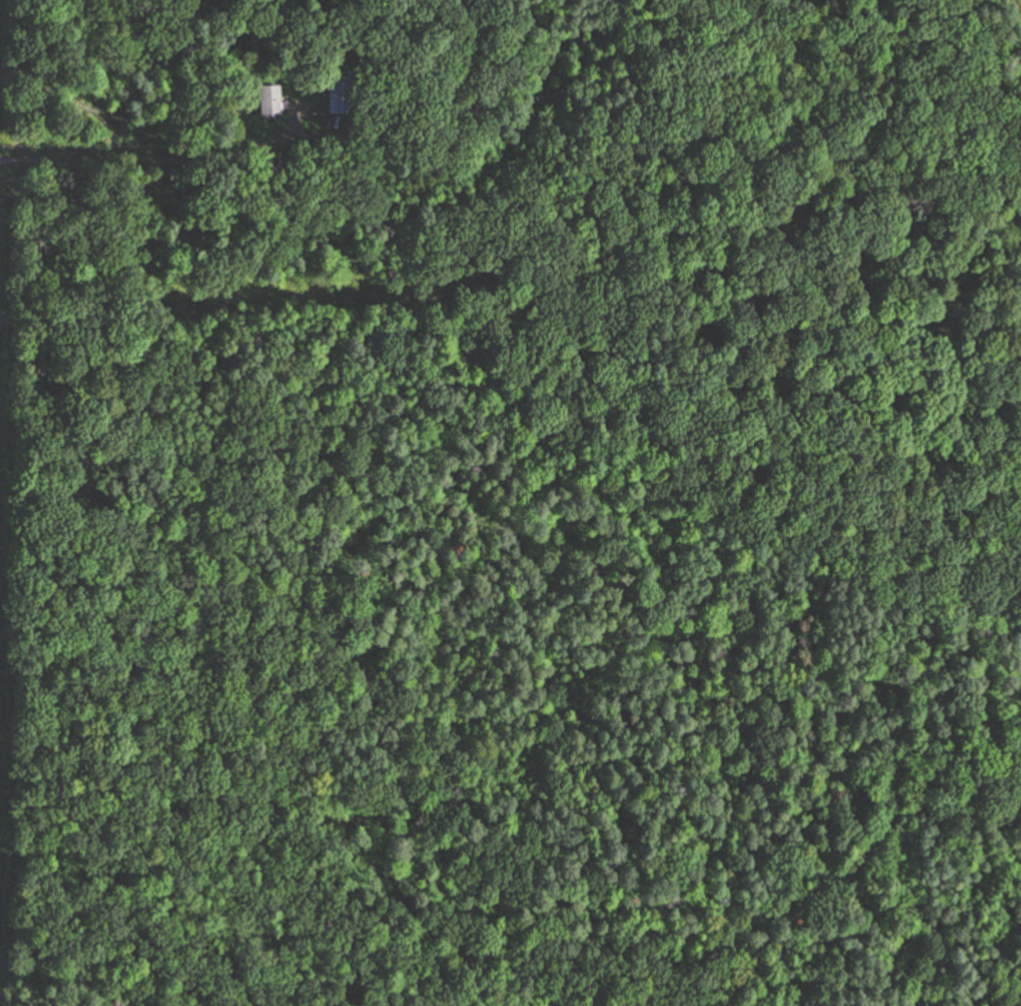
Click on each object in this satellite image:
building: (330, 94)
road: (235, 98)
building: (262, 102)

